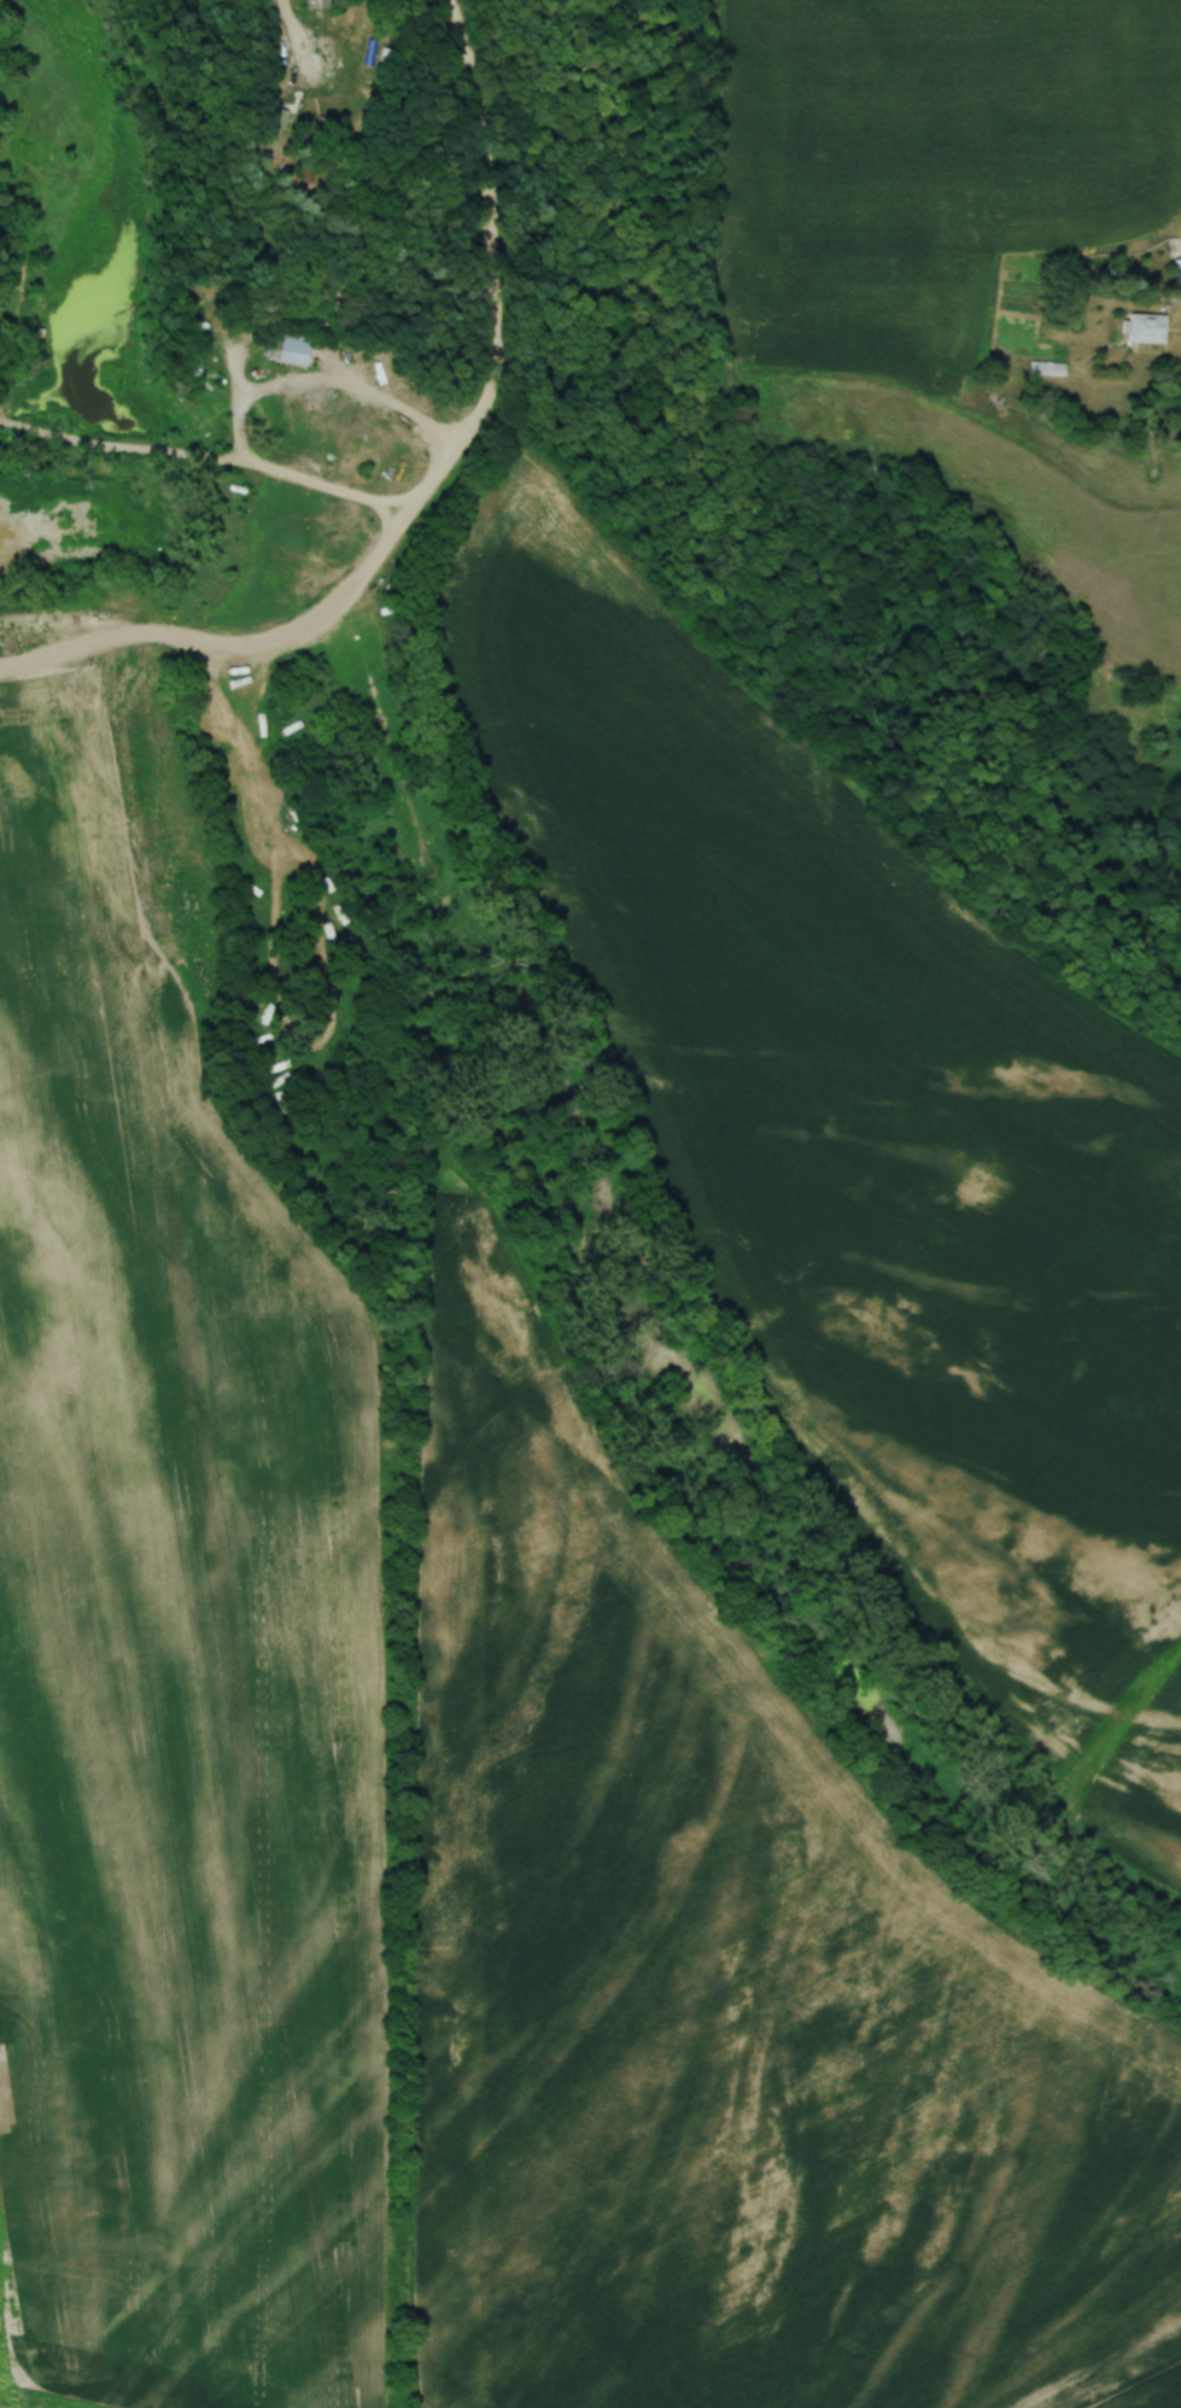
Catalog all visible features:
building: (321, 4)
road: (293, 30)
building: (1176, 270)
road: (1173, 306)
building: (1142, 327)
building: (291, 347)
building: (197, 356)
building: (1046, 367)
road: (386, 403)
road: (450, 461)
road: (232, 649)

